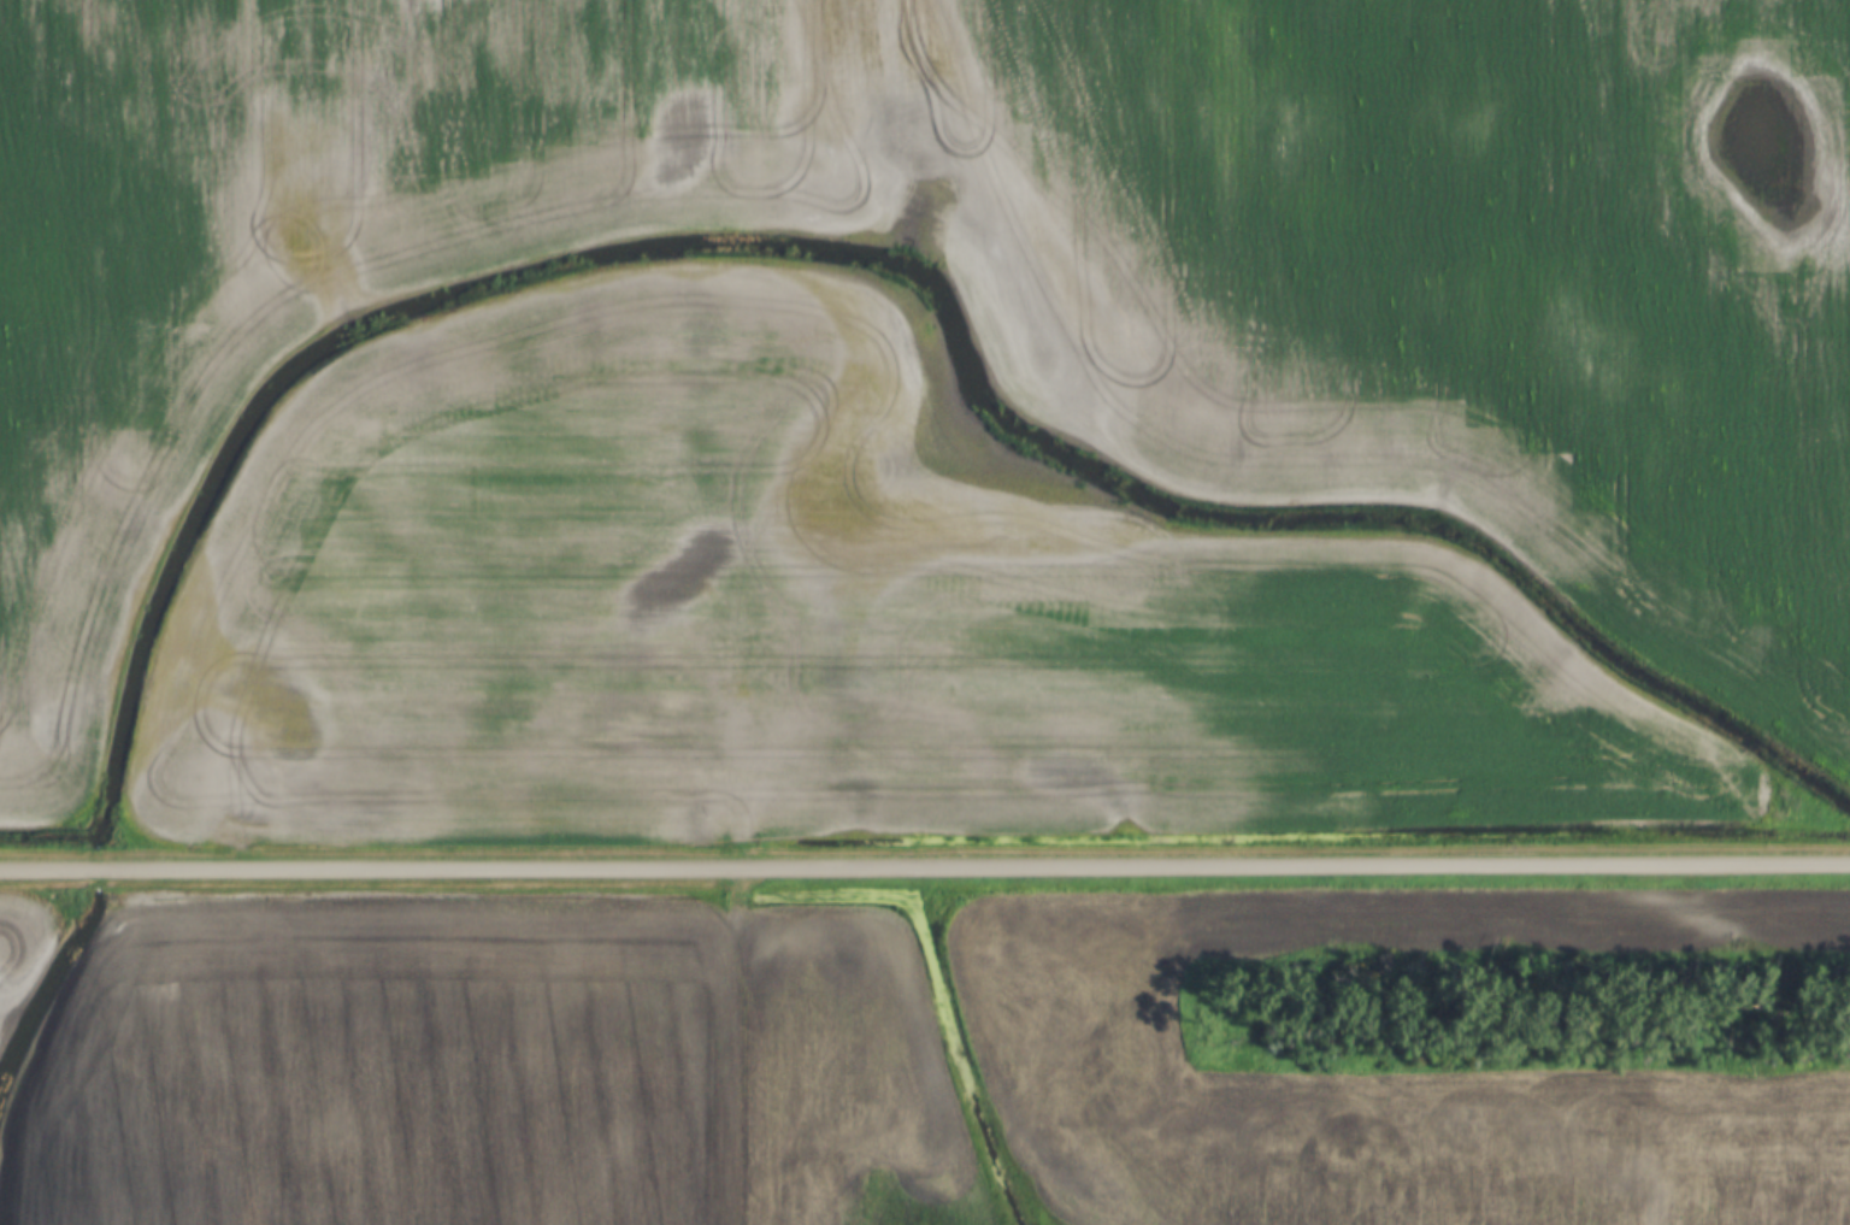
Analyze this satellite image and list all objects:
road: (925, 867)

